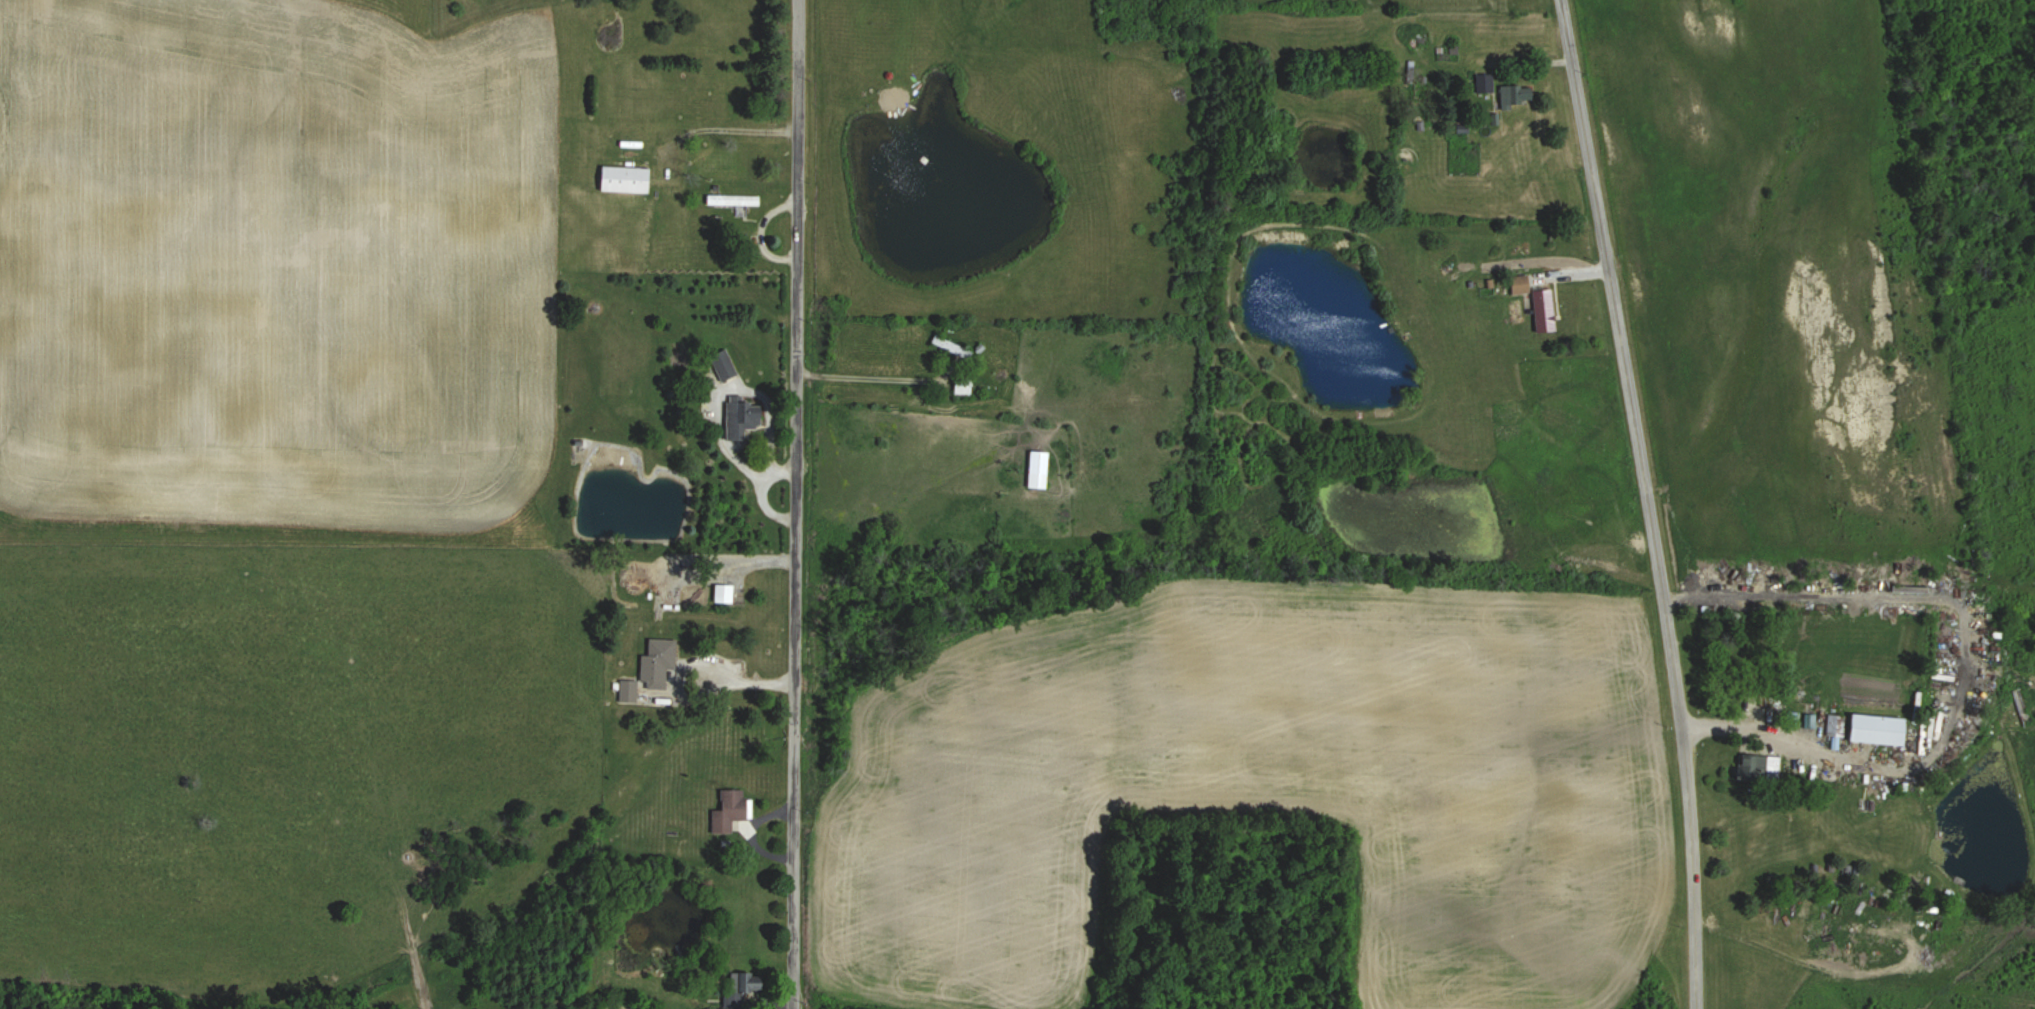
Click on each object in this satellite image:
building: (1488, 82)
building: (1522, 95)
road: (730, 128)
building: (630, 178)
building: (737, 199)
building: (1543, 304)
building: (956, 346)
road: (870, 376)
building: (969, 385)
building: (747, 418)
building: (1043, 469)
road: (1644, 502)
road: (791, 504)
building: (727, 593)
building: (663, 661)
road: (1959, 668)
building: (632, 689)
building: (1874, 730)
building: (732, 813)
building: (740, 984)

